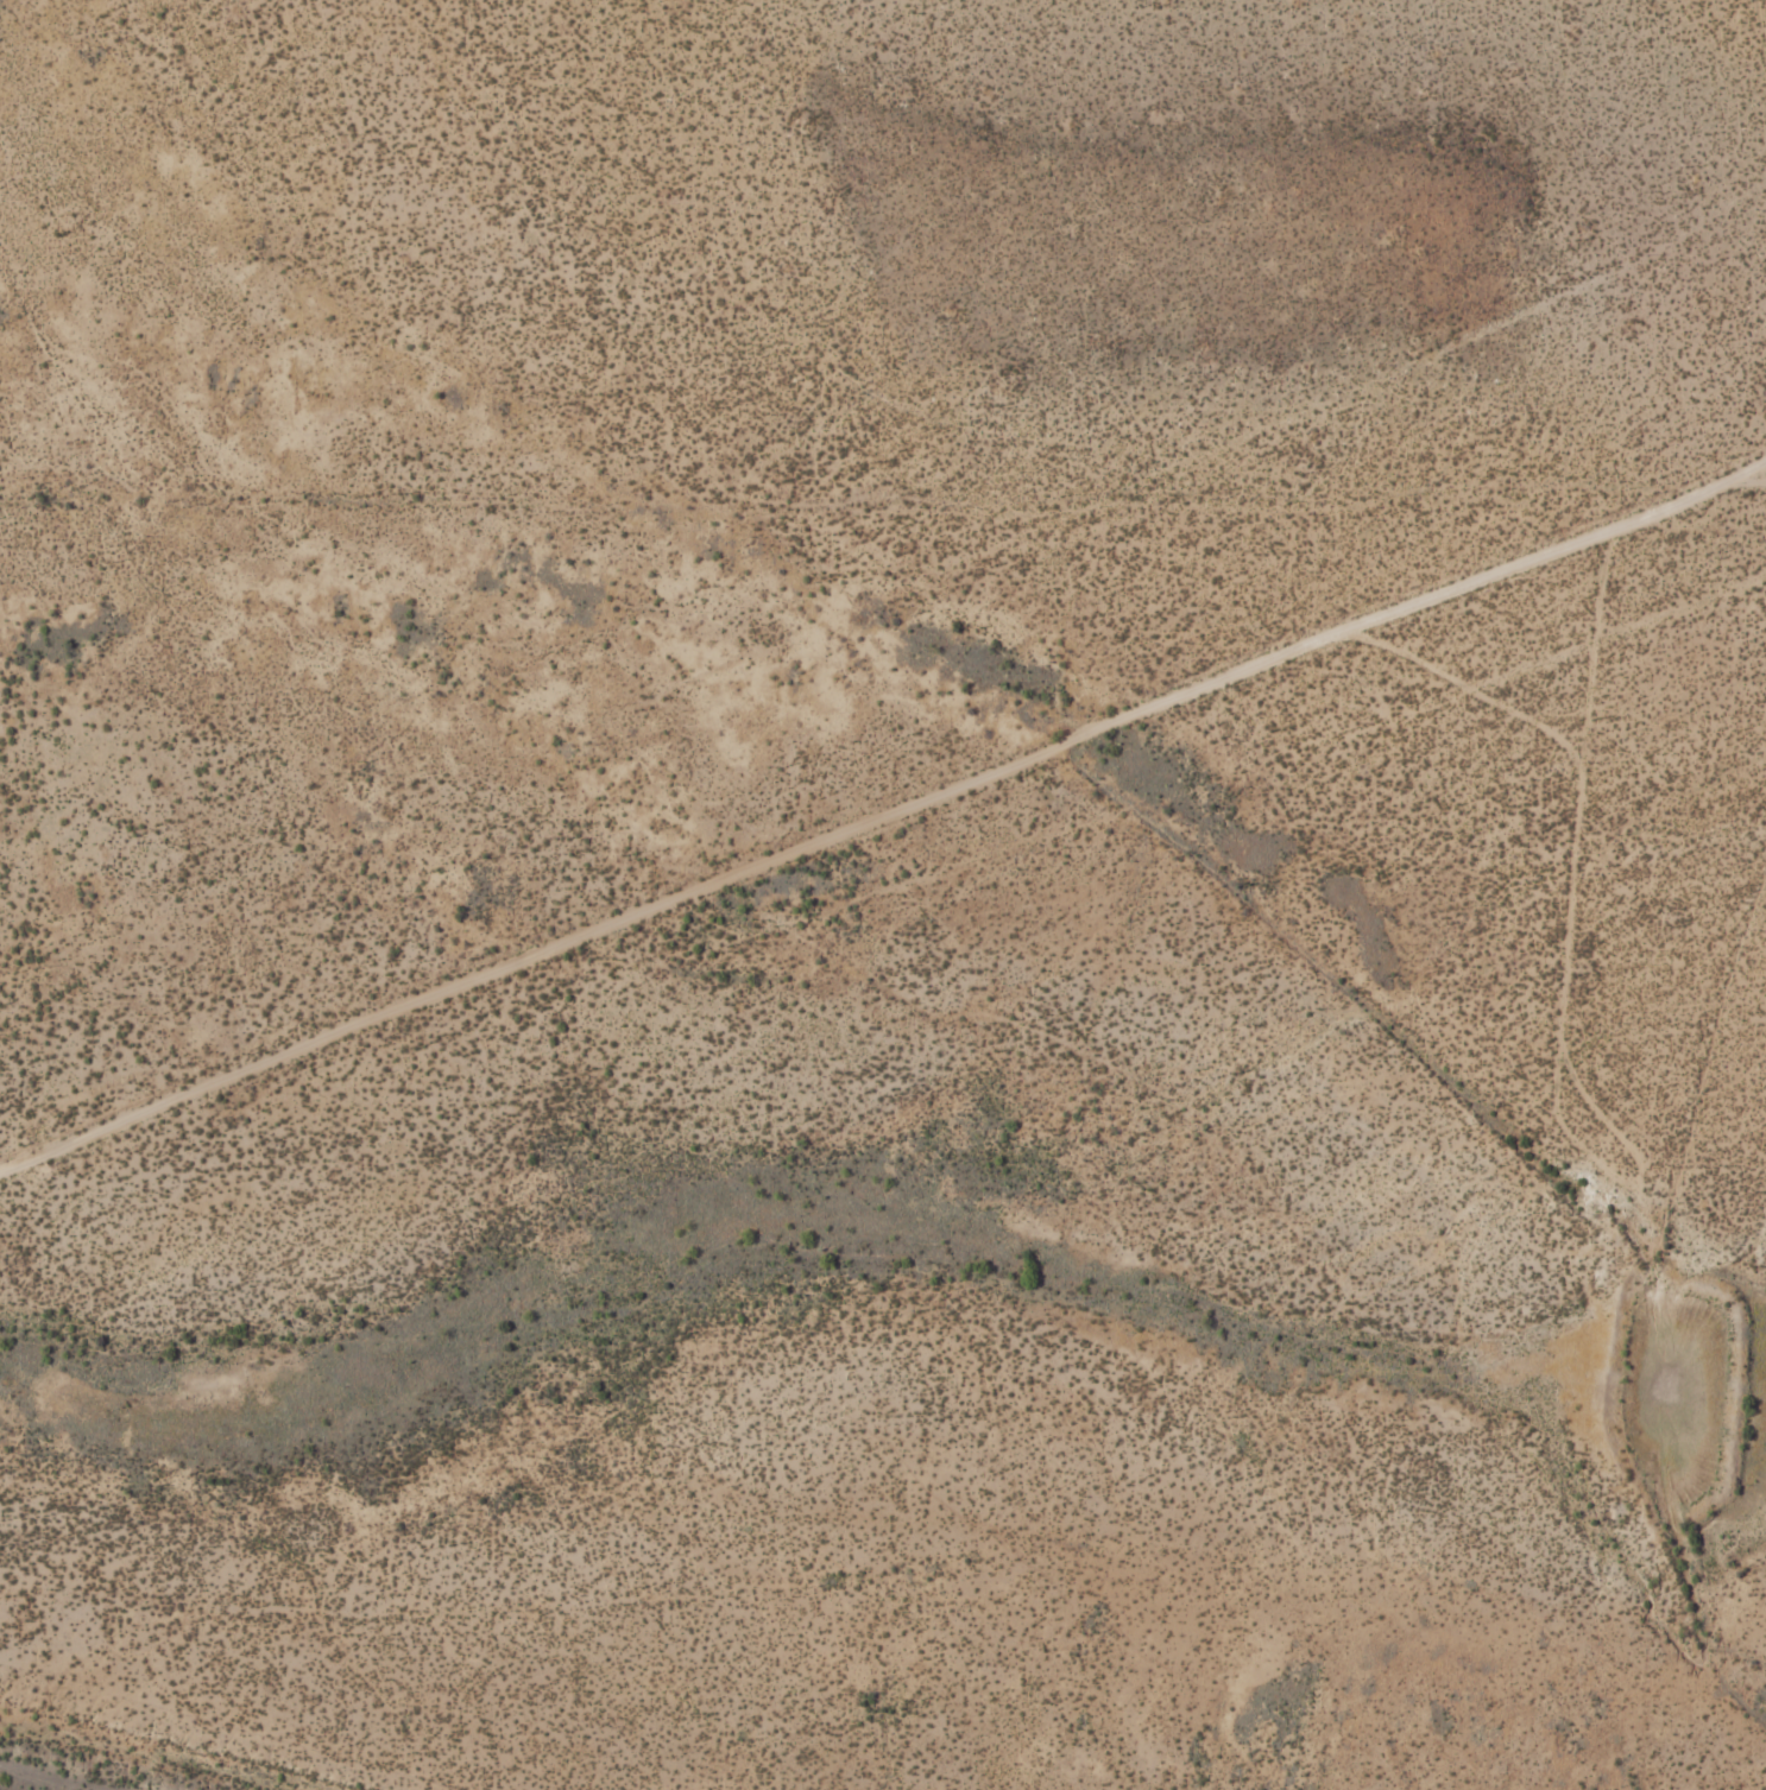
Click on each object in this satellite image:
road: (1745, 470)
road: (883, 807)

